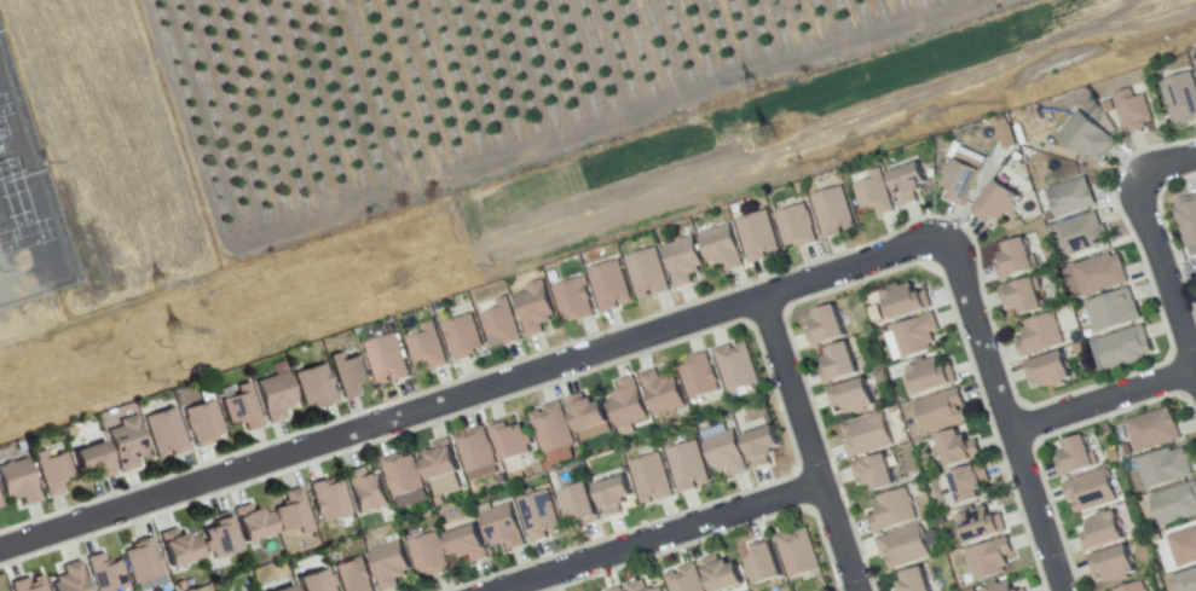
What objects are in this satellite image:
building: (1195, 65)
power tower: (753, 85)
building: (1180, 97)
building: (1109, 106)
building: (1132, 111)
power tower: (772, 138)
building: (1087, 138)
road: (1165, 168)
building: (960, 180)
building: (907, 182)
building: (874, 193)
building: (1074, 197)
building: (996, 202)
building: (833, 213)
building: (1188, 218)
building: (797, 226)
building: (1080, 233)
building: (758, 236)
power substation: (16, 242)
building: (722, 248)
building: (683, 260)
building: (1016, 260)
road: (1165, 272)
building: (647, 273)
building: (1099, 273)
power tower: (161, 285)
building: (609, 285)
building: (1023, 296)
building: (573, 300)
building: (906, 301)
building: (535, 307)
building: (1114, 311)
building: (502, 323)
building: (826, 326)
power tower: (180, 335)
building: (917, 335)
building: (1040, 335)
building: (462, 337)
building: (427, 347)
building: (1121, 348)
building: (387, 359)
building: (838, 363)
building: (738, 367)
building: (1050, 370)
building: (347, 373)
building: (928, 376)
building: (700, 377)
building: (313, 386)
building: (661, 392)
road: (473, 393)
building: (275, 395)
building: (851, 396)
road: (1103, 401)
building: (628, 404)
building: (242, 407)
building: (941, 411)
road: (1005, 412)
building: (584, 413)
building: (202, 423)
building: (1154, 430)
building: (164, 433)
building: (554, 433)
building: (866, 435)
building: (512, 440)
building: (126, 442)
road: (808, 442)
building: (761, 447)
building: (955, 448)
building: (478, 451)
building: (726, 453)
building: (1075, 458)
building: (92, 460)
building: (440, 460)
building: (687, 467)
building: (1165, 468)
building: (51, 470)
building: (874, 473)
building: (401, 477)
building: (652, 479)
building: (17, 482)
building: (967, 482)
building: (364, 489)
building: (1091, 491)
building: (612, 496)
building: (329, 499)
building: (0, 504)
building: (578, 504)
building: (1175, 504)
building: (0, 506)
building: (892, 510)
building: (293, 512)
building: (539, 516)
building: (250, 525)
building: (980, 525)
building: (502, 526)
building: (1102, 531)
road: (660, 538)
building: (218, 539)
building: (467, 544)
building: (903, 547)
building: (1184, 547)
building: (177, 549)
building: (797, 552)
building: (428, 555)
building: (990, 558)
building: (143, 562)
building: (389, 564)
building: (1113, 564)
building: (762, 566)
building: (720, 573)
building: (105, 574)
building: (354, 575)
building: (69, 579)
building: (684, 579)
building: (1185, 580)
building: (913, 581)
building: (313, 583)
building: (27, 585)
building: (639, 586)
building: (1004, 586)
building: (1133, 587)
building: (285, 589)
building: (616, 589)
building: (658, 590)

